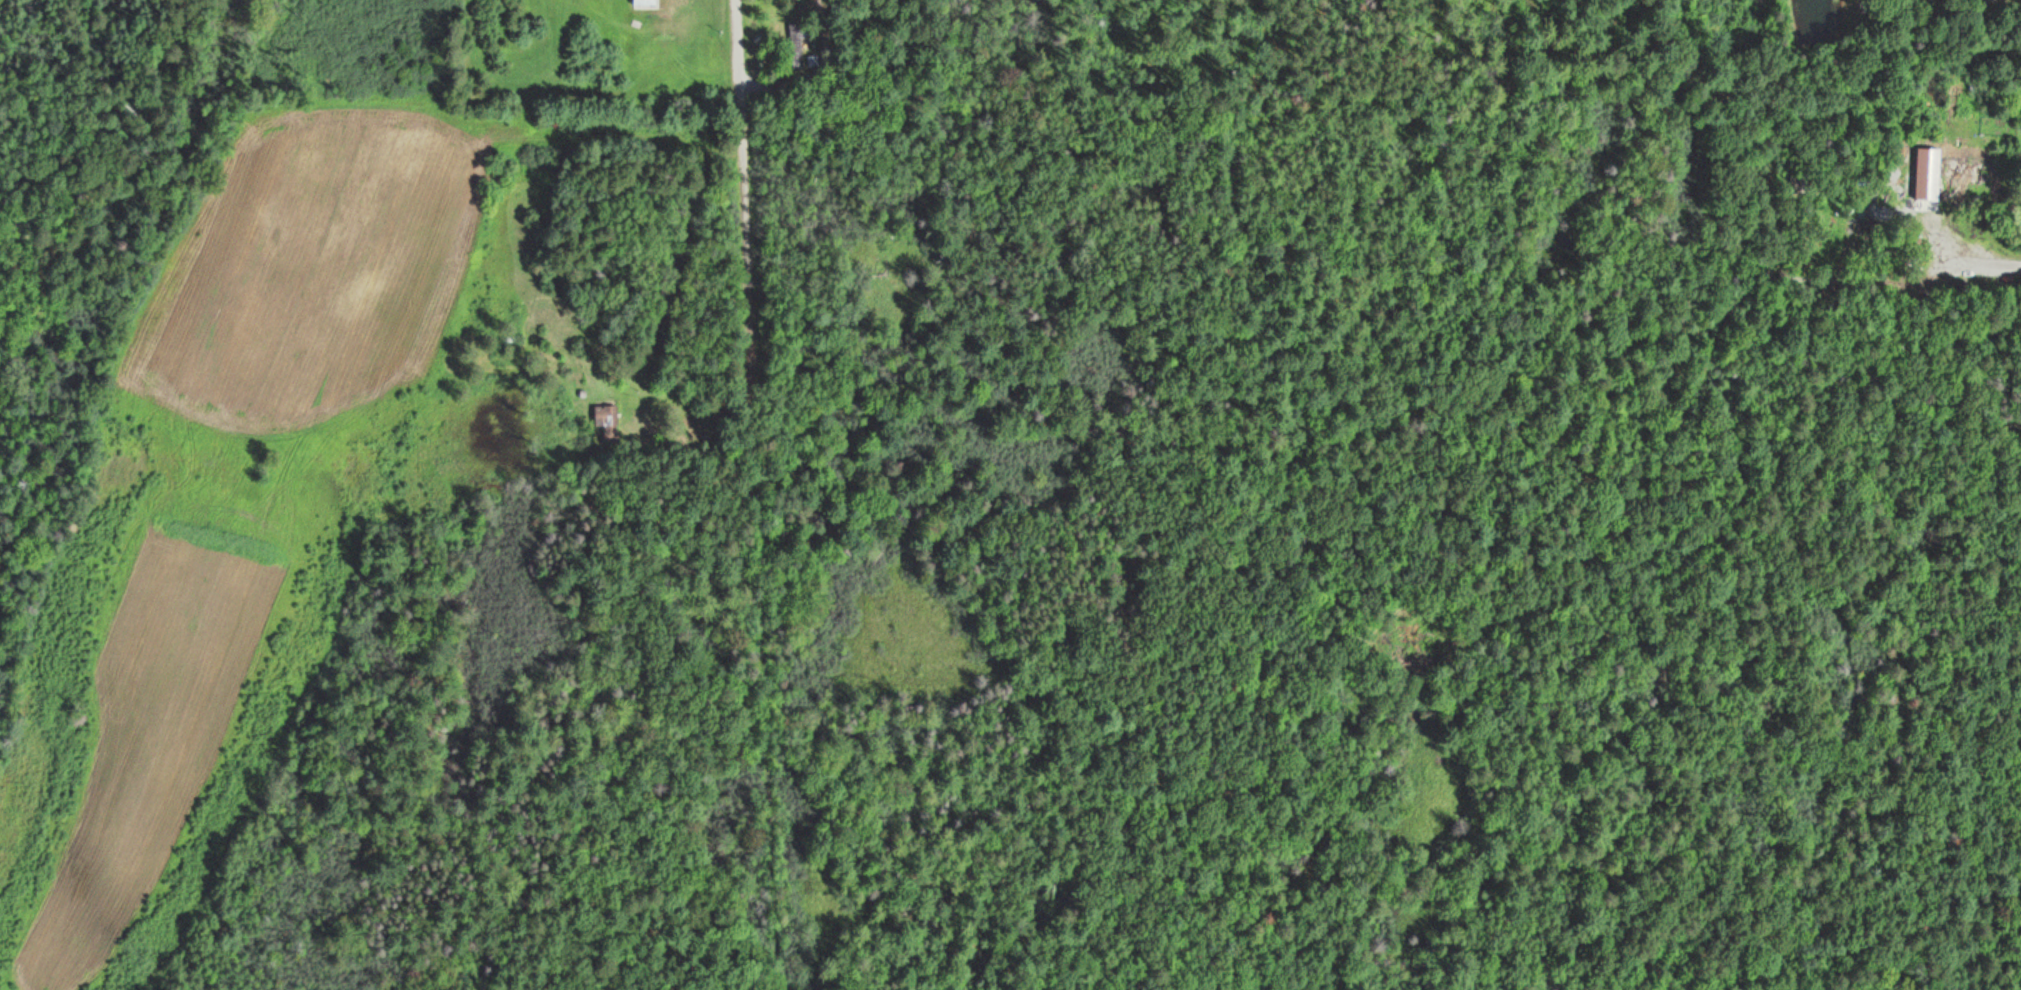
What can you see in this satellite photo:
road: (743, 112)
road: (2006, 268)

